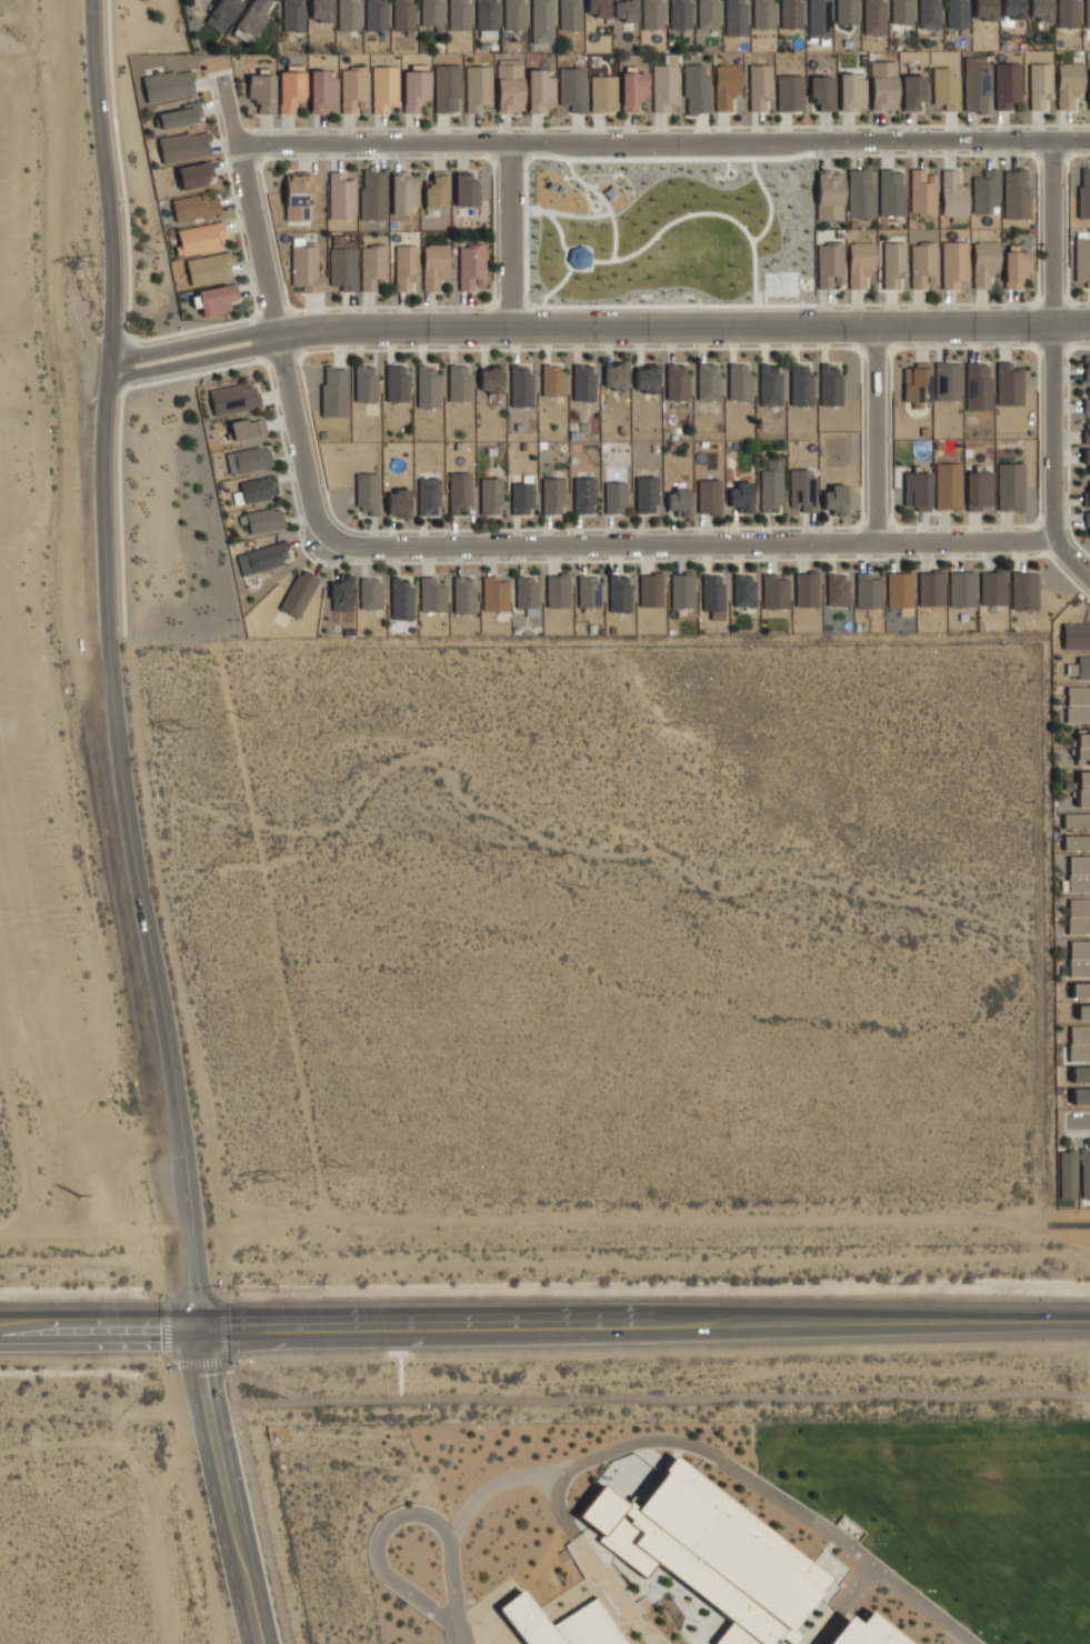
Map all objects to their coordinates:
building: (597, 8)
building: (1012, 9)
building: (1040, 9)
building: (321, 10)
building: (624, 10)
building: (984, 10)
building: (846, 11)
building: (901, 11)
building: (432, 13)
building: (763, 13)
building: (790, 13)
building: (929, 13)
building: (956, 13)
building: (1068, 13)
building: (1087, 13)
building: (222, 14)
building: (292, 14)
building: (348, 14)
building: (377, 14)
building: (459, 14)
building: (487, 14)
building: (514, 14)
building: (569, 14)
building: (652, 14)
building: (680, 14)
building: (708, 14)
building: (404, 16)
building: (736, 17)
building: (874, 17)
building: (819, 19)
building: (542, 21)
building: (1069, 83)
building: (168, 84)
building: (976, 84)
building: (1007, 84)
building: (726, 86)
building: (759, 86)
building: (882, 86)
building: (1039, 86)
building: (447, 87)
building: (664, 87)
building: (384, 88)
building: (478, 88)
building: (510, 88)
building: (572, 88)
building: (946, 88)
building: (353, 89)
building: (697, 89)
building: (1089, 89)
building: (290, 90)
building: (414, 90)
building: (540, 90)
building: (632, 90)
building: (262, 91)
building: (912, 91)
building: (322, 92)
building: (790, 92)
building: (821, 92)
building: (851, 92)
building: (603, 93)
building: (181, 116)
road: (670, 127)
road: (663, 141)
road: (256, 146)
building: (183, 147)
road: (463, 157)
road: (1051, 158)
building: (196, 174)
building: (466, 189)
building: (437, 191)
building: (986, 191)
building: (403, 192)
building: (891, 192)
building: (922, 192)
building: (860, 193)
building: (1083, 193)
building: (300, 194)
building: (373, 194)
building: (830, 194)
building: (952, 194)
building: (1016, 194)
building: (341, 196)
building: (194, 207)
road: (1038, 221)
road: (1066, 228)
road: (509, 233)
park: (670, 234)
building: (199, 238)
power tower: (152, 255)
building: (1082, 259)
building: (984, 262)
building: (860, 263)
building: (953, 263)
building: (829, 264)
building: (922, 264)
building: (434, 265)
building: (471, 265)
building: (893, 265)
building: (372, 267)
building: (406, 267)
building: (209, 268)
building: (307, 268)
building: (342, 268)
building: (1016, 268)
power tower: (86, 269)
building: (217, 299)
road: (1068, 300)
road: (1036, 301)
road: (1051, 302)
road: (273, 305)
road: (292, 312)
road: (111, 318)
road: (1067, 323)
road: (1037, 324)
road: (597, 325)
road: (258, 338)
road: (152, 339)
road: (1052, 347)
road: (901, 348)
road: (1036, 348)
road: (1068, 348)
road: (329, 350)
road: (874, 351)
road: (284, 358)
road: (129, 364)
road: (1053, 365)
building: (1087, 369)
building: (614, 374)
building: (490, 378)
building: (646, 379)
building: (552, 380)
building: (677, 381)
building: (708, 381)
building: (738, 381)
building: (947, 381)
building: (459, 382)
building: (583, 382)
building: (363, 383)
building: (397, 383)
building: (830, 383)
building: (917, 383)
building: (801, 384)
building: (1009, 384)
building: (428, 385)
building: (521, 387)
building: (978, 387)
building: (333, 390)
building: (234, 398)
building: (1087, 399)
building: (247, 428)
building: (1086, 431)
road: (876, 434)
road: (1067, 444)
building: (1086, 458)
building: (252, 459)
building: (771, 484)
building: (947, 485)
building: (1010, 487)
building: (258, 489)
building: (801, 490)
building: (917, 490)
building: (978, 490)
building: (459, 492)
building: (1089, 492)
building: (583, 494)
building: (646, 494)
building: (428, 495)
building: (490, 495)
building: (522, 495)
building: (552, 495)
building: (364, 497)
building: (614, 497)
building: (708, 497)
building: (740, 497)
building: (833, 499)
building: (679, 502)
building: (398, 503)
building: (264, 520)
building: (1089, 523)
road: (878, 524)
road: (1038, 539)
road: (689, 545)
building: (263, 558)
road: (404, 562)
building: (931, 588)
building: (992, 588)
building: (807, 589)
building: (837, 589)
building: (961, 589)
building: (682, 590)
building: (743, 590)
building: (899, 590)
building: (526, 591)
building: (557, 591)
building: (588, 591)
building: (650, 591)
building: (868, 591)
building: (1024, 591)
building: (774, 592)
building: (299, 593)
building: (342, 593)
building: (370, 593)
building: (432, 593)
building: (494, 593)
building: (619, 593)
building: (464, 594)
building: (712, 595)
building: (401, 600)
building: (1076, 636)
building: (1083, 668)
building: (1078, 704)
power tower: (246, 716)
power tower: (180, 735)
building: (1082, 746)
building: (1083, 788)
building: (1077, 821)
building: (1076, 842)
building: (1079, 873)
building: (1079, 915)
building: (1079, 958)
road: (158, 981)
building: (1080, 991)
building: (1082, 1011)
building: (1079, 1043)
building: (1080, 1074)
building: (1080, 1095)
road: (1079, 1120)
power tower: (338, 1167)
building: (1084, 1173)
building: (1067, 1174)
power tower: (272, 1185)
power tower: (78, 1194)
road: (1068, 1225)
road: (644, 1322)
road: (100, 1327)
traffic signals: (200, 1327)
road: (721, 1464)
road: (229, 1485)
road: (258, 1504)
road: (396, 1520)
building: (710, 1552)
building: (827, 1590)
building: (563, 1623)
building: (866, 1631)
road: (456, 1634)

